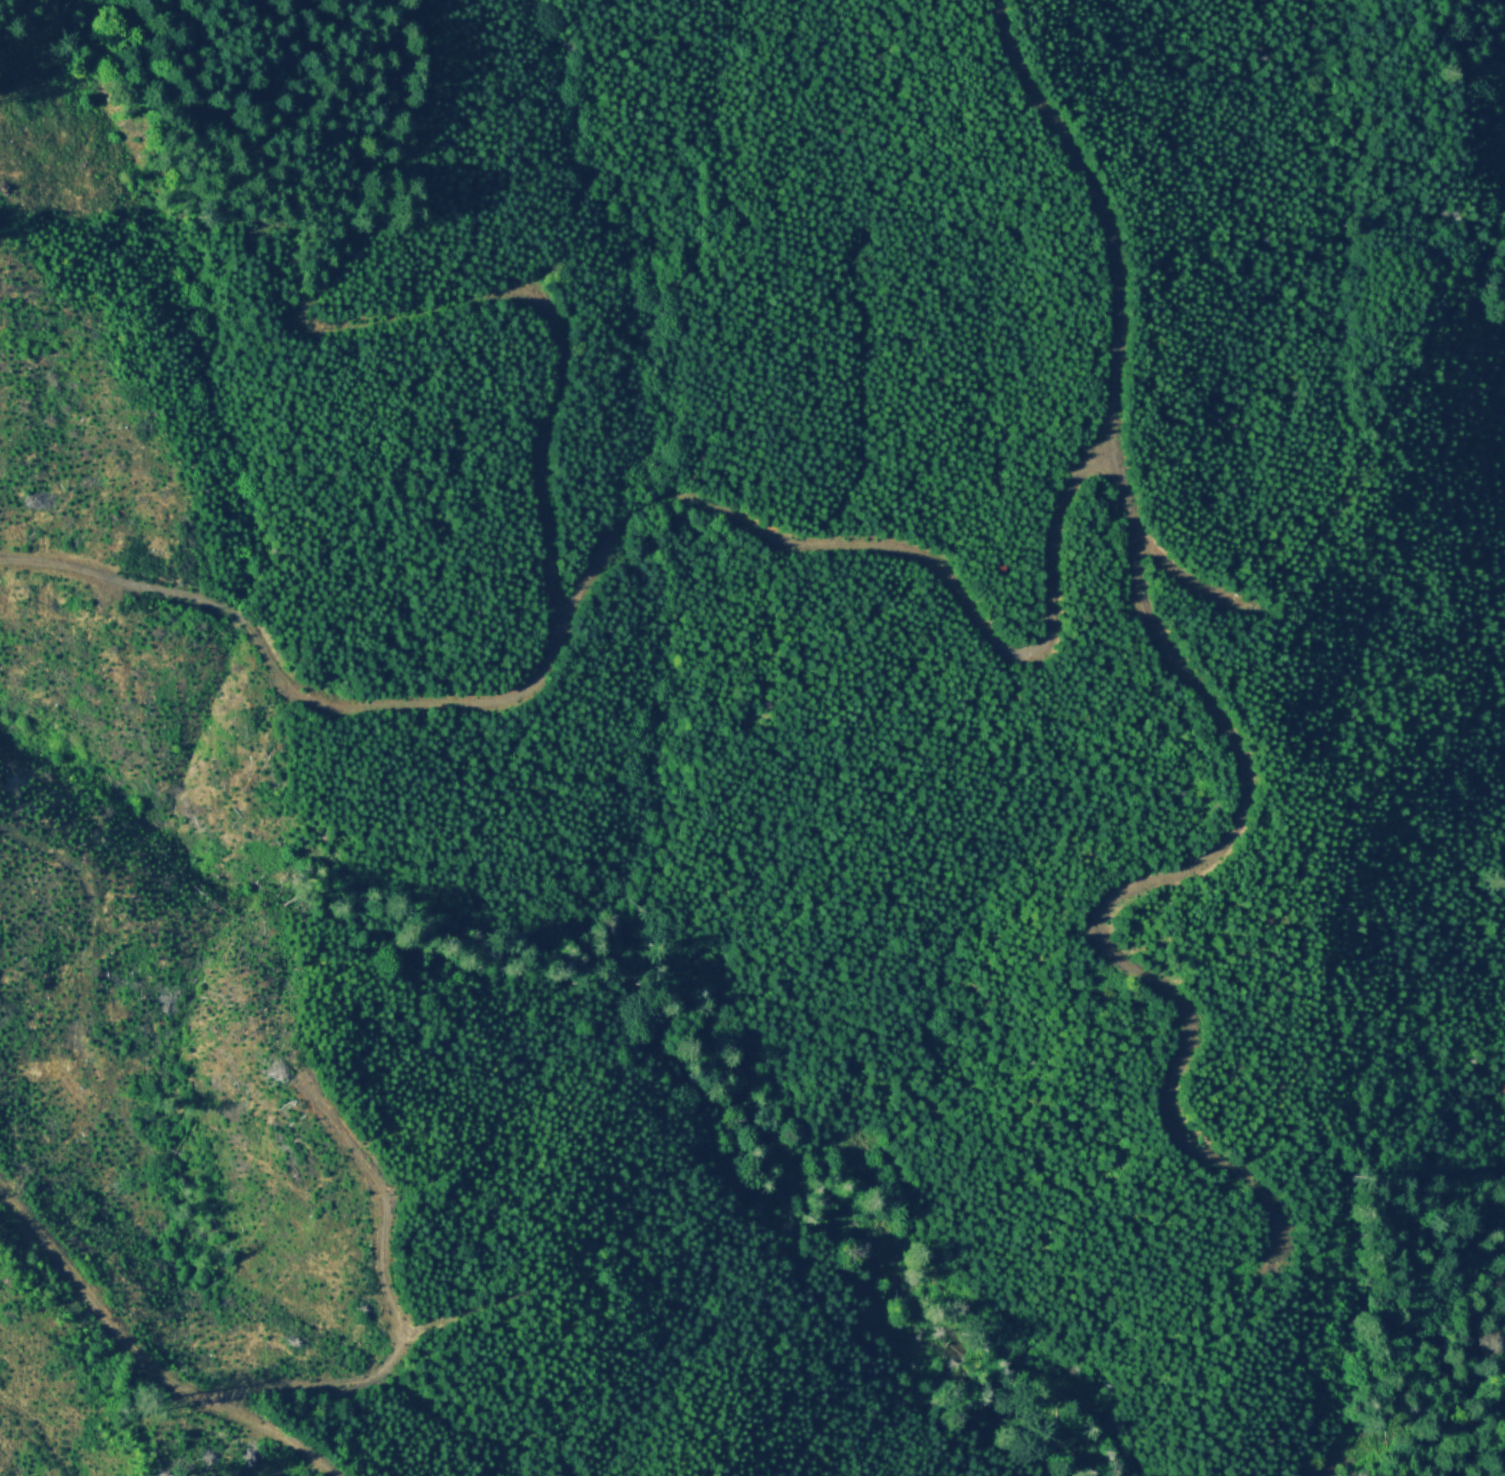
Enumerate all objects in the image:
road: (619, 523)
road: (1186, 580)
road: (281, 682)
road: (1209, 710)
road: (460, 1315)
road: (309, 1384)
road: (267, 1430)

